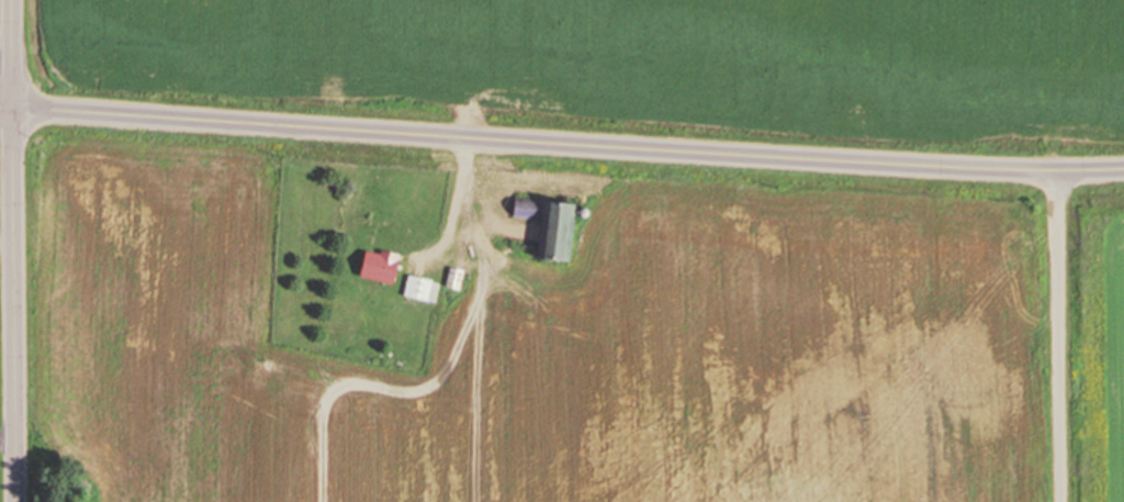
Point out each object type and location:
road: (7, 104)
road: (569, 141)
building: (547, 226)
road: (14, 250)
building: (376, 265)
building: (452, 278)
building: (419, 289)
road: (1060, 336)

